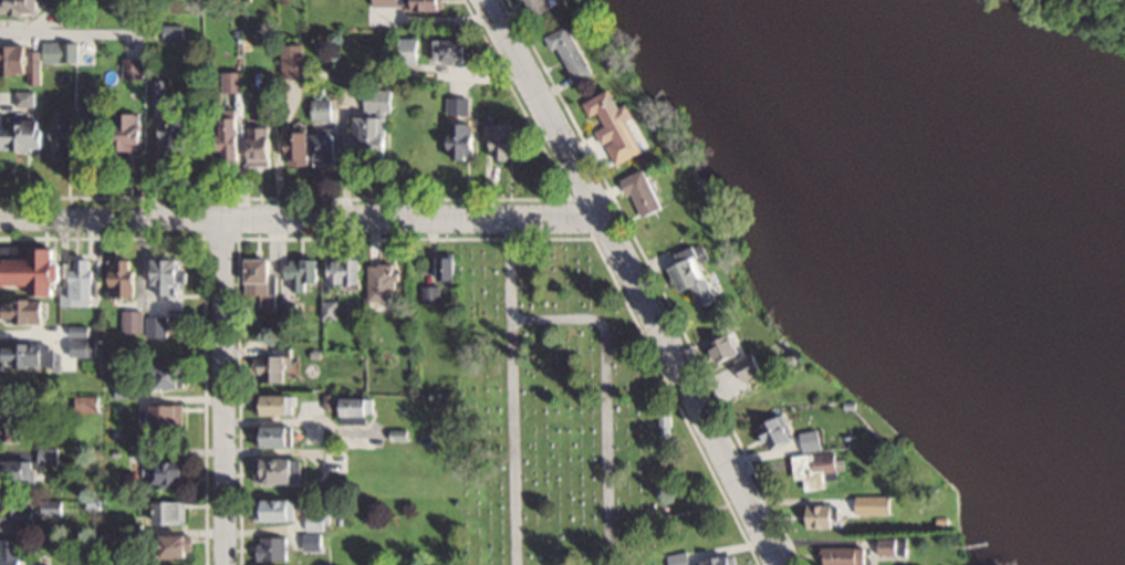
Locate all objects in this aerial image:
building: (409, 3)
building: (21, 6)
building: (541, 6)
building: (454, 49)
building: (60, 50)
building: (408, 50)
building: (572, 51)
building: (21, 60)
building: (132, 67)
building: (232, 80)
building: (157, 90)
building: (24, 97)
building: (458, 104)
building: (321, 108)
building: (614, 115)
building: (375, 122)
building: (127, 129)
building: (66, 132)
building: (178, 133)
building: (24, 134)
building: (235, 136)
building: (462, 138)
building: (503, 139)
building: (262, 144)
building: (313, 145)
building: (644, 192)
road: (302, 219)
river: (927, 240)
building: (448, 265)
building: (345, 269)
building: (170, 273)
building: (301, 273)
building: (51, 274)
building: (128, 275)
building: (261, 278)
building: (696, 279)
building: (381, 281)
road: (635, 281)
building: (329, 308)
building: (25, 310)
building: (133, 320)
building: (157, 325)
building: (81, 331)
building: (84, 346)
building: (727, 347)
building: (28, 353)
building: (269, 366)
building: (752, 366)
building: (173, 375)
building: (124, 388)
road: (223, 391)
building: (88, 402)
building: (275, 404)
building: (356, 408)
park: (567, 415)
building: (168, 416)
building: (14, 420)
building: (775, 432)
building: (274, 435)
building: (819, 465)
building: (279, 468)
building: (18, 470)
building: (173, 472)
building: (868, 504)
building: (52, 506)
building: (278, 509)
building: (171, 511)
building: (821, 514)
building: (18, 515)
building: (316, 521)
building: (174, 544)
building: (892, 546)
building: (271, 547)
building: (12, 552)
building: (844, 555)
building: (678, 558)
building: (720, 561)

